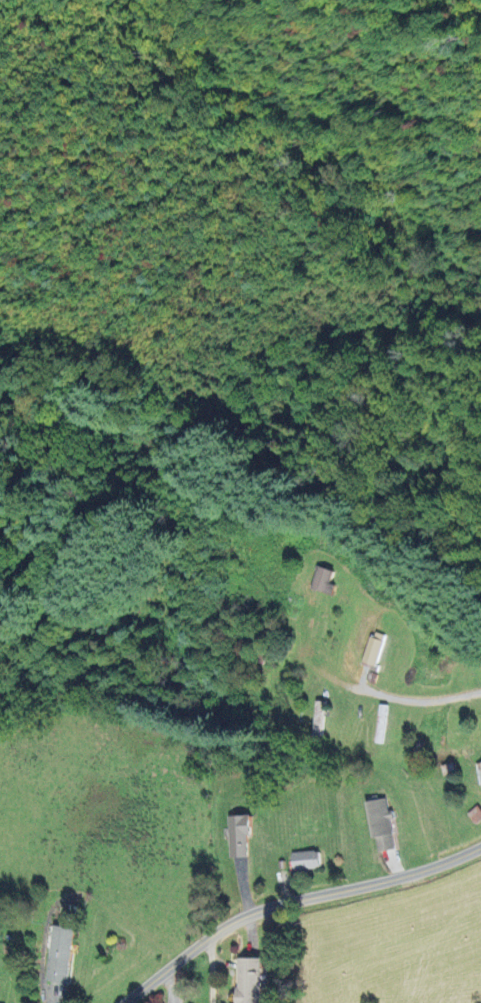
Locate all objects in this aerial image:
building: (321, 581)
road: (351, 635)
building: (372, 648)
building: (477, 772)
building: (379, 825)
building: (236, 836)
building: (303, 860)
road: (297, 903)
building: (58, 954)
building: (247, 980)
road: (172, 986)

